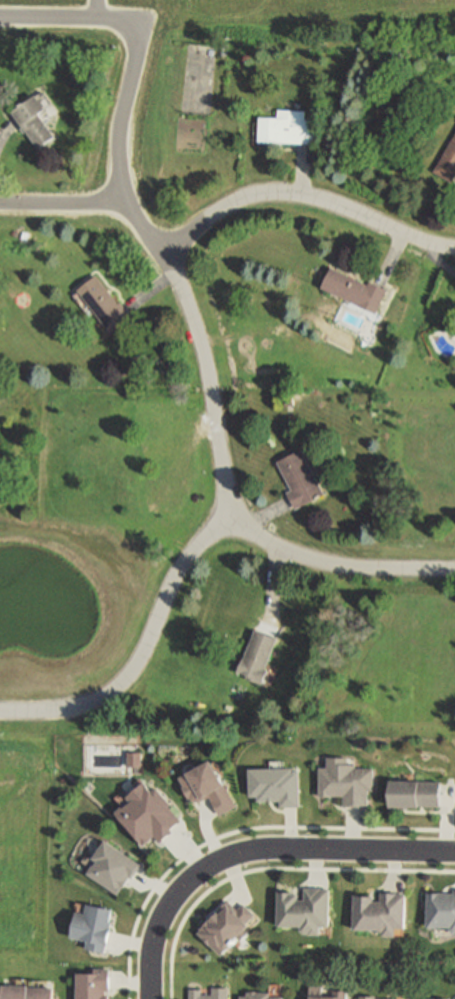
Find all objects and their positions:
road: (98, 7)
building: (35, 120)
building: (287, 126)
building: (447, 161)
road: (302, 194)
road: (60, 203)
building: (354, 289)
building: (105, 303)
road: (207, 357)
building: (302, 478)
road: (337, 563)
building: (256, 655)
building: (346, 781)
building: (276, 784)
building: (209, 786)
building: (415, 793)
building: (149, 812)
road: (237, 832)
park: (25, 839)
road: (254, 849)
building: (113, 866)
road: (270, 870)
building: (305, 909)
building: (441, 910)
building: (380, 912)
building: (228, 926)
building: (91, 927)
building: (91, 984)
building: (24, 992)
building: (339, 992)
building: (200, 993)
building: (258, 995)
building: (367, 996)
building: (444, 998)

